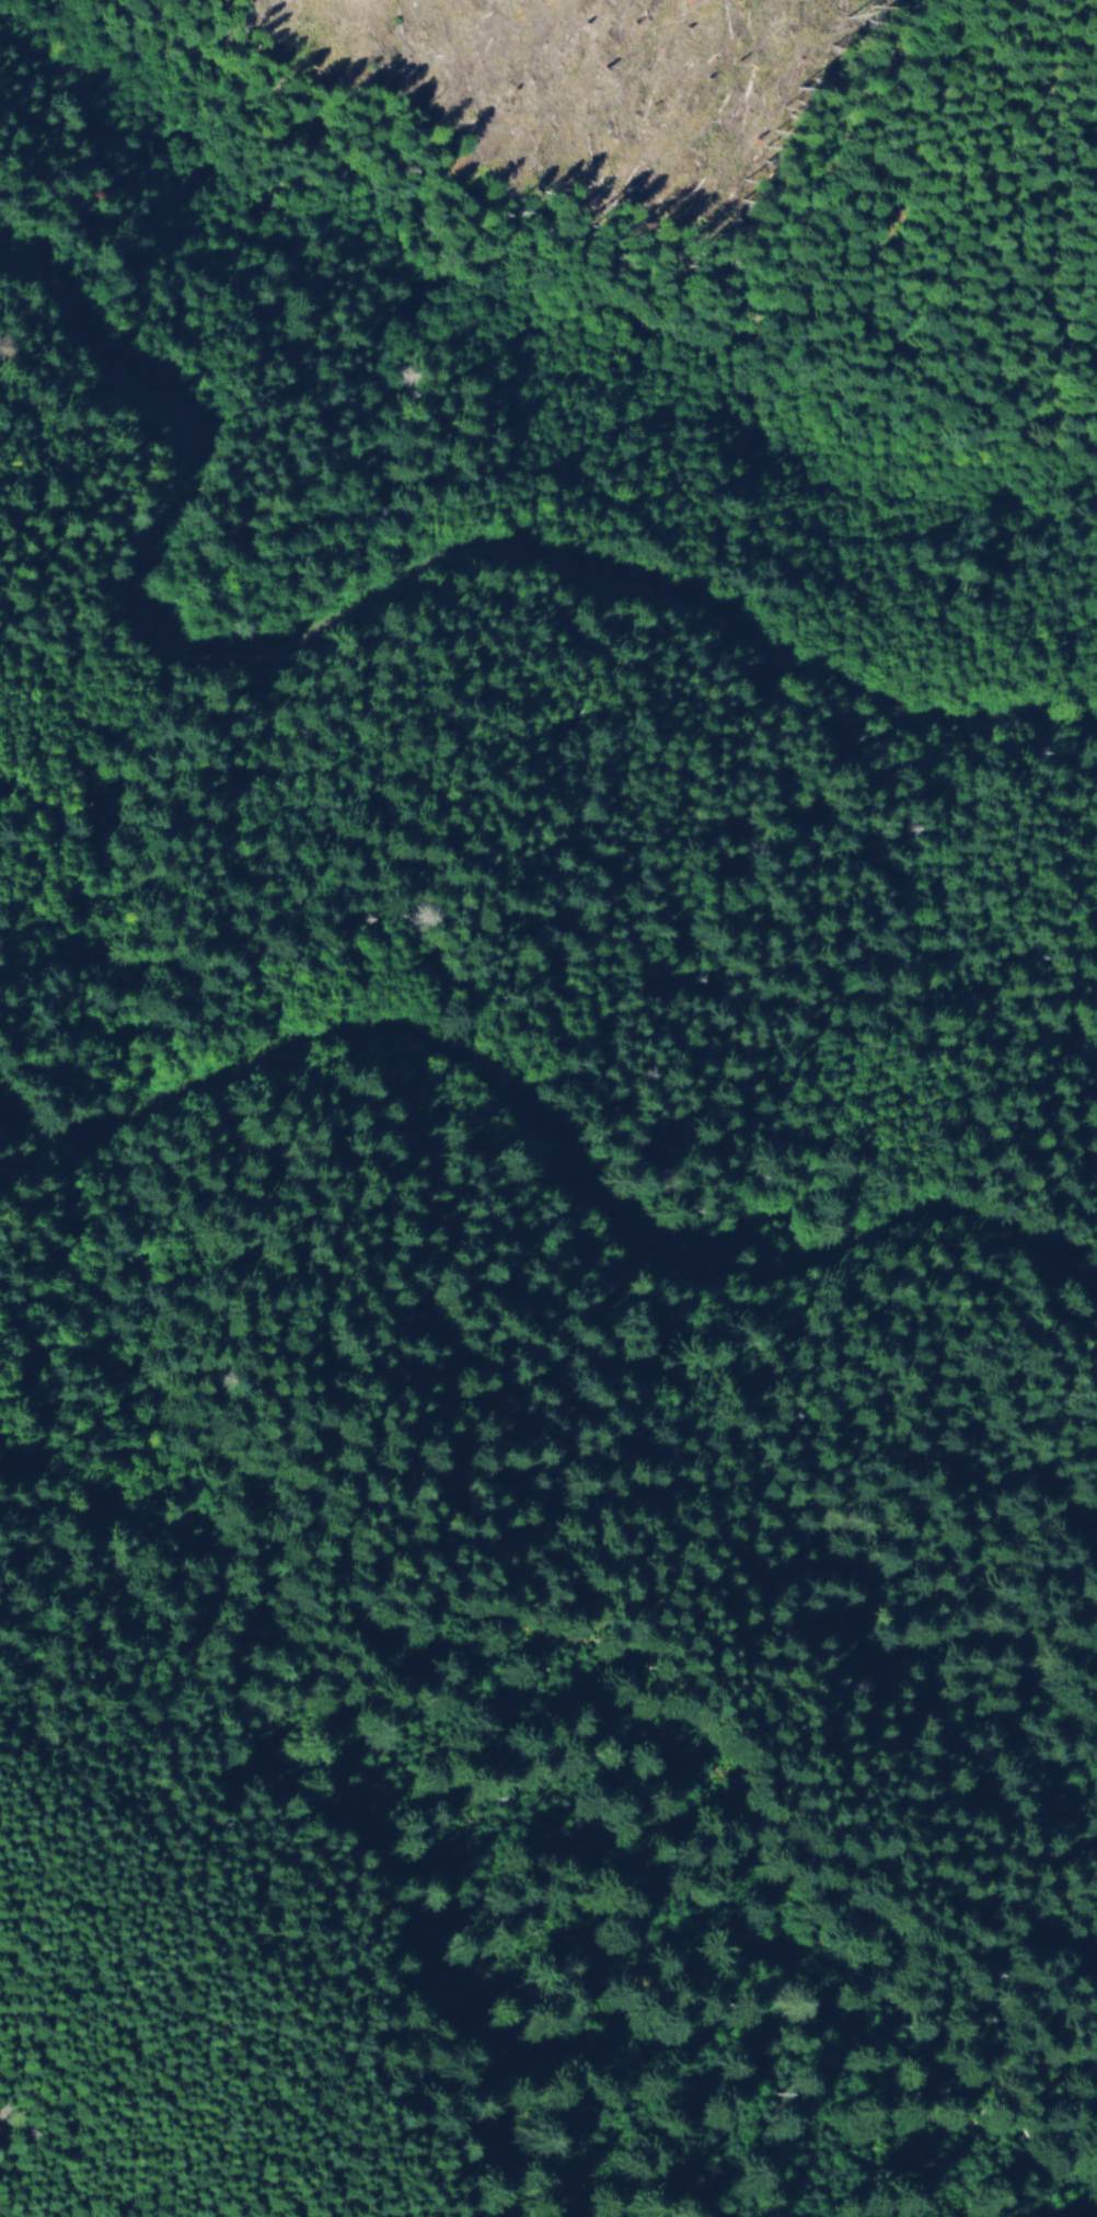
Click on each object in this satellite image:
road: (405, 568)
road: (556, 1148)

